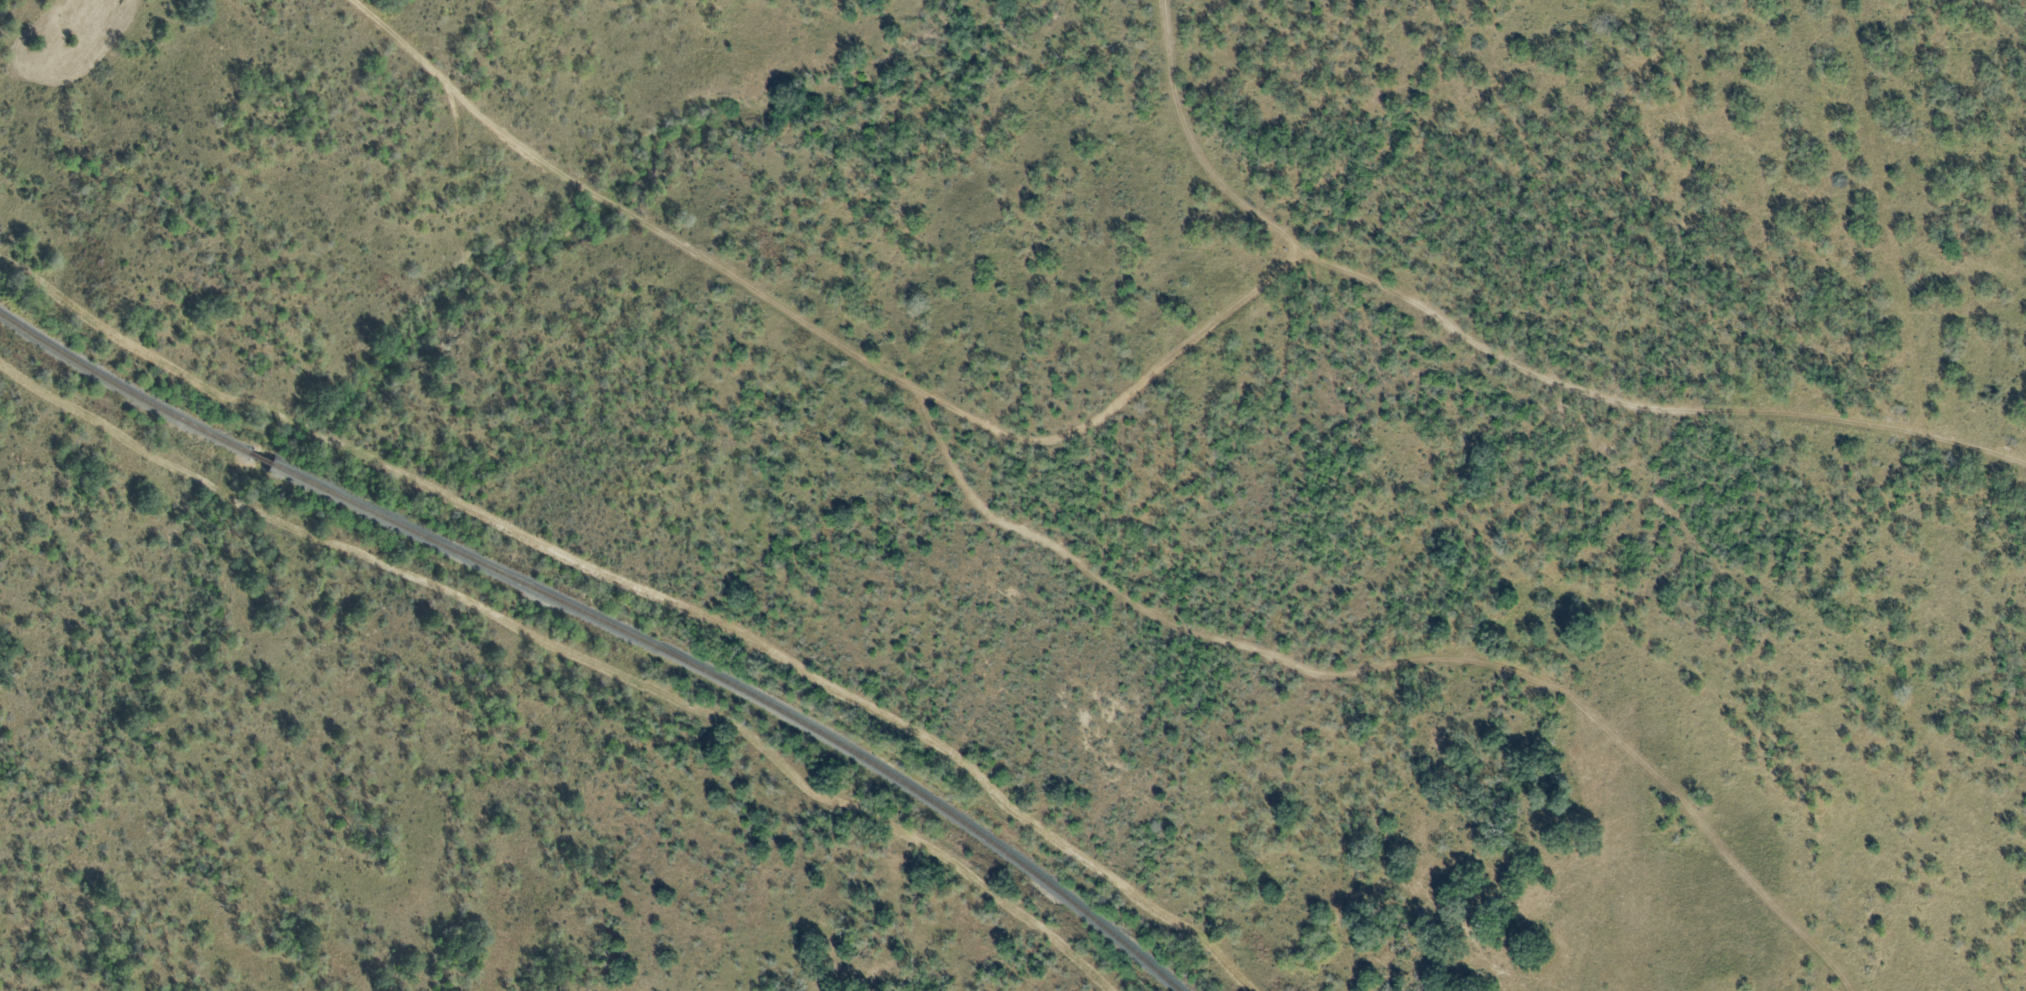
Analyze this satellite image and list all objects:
railway: (607, 623)

